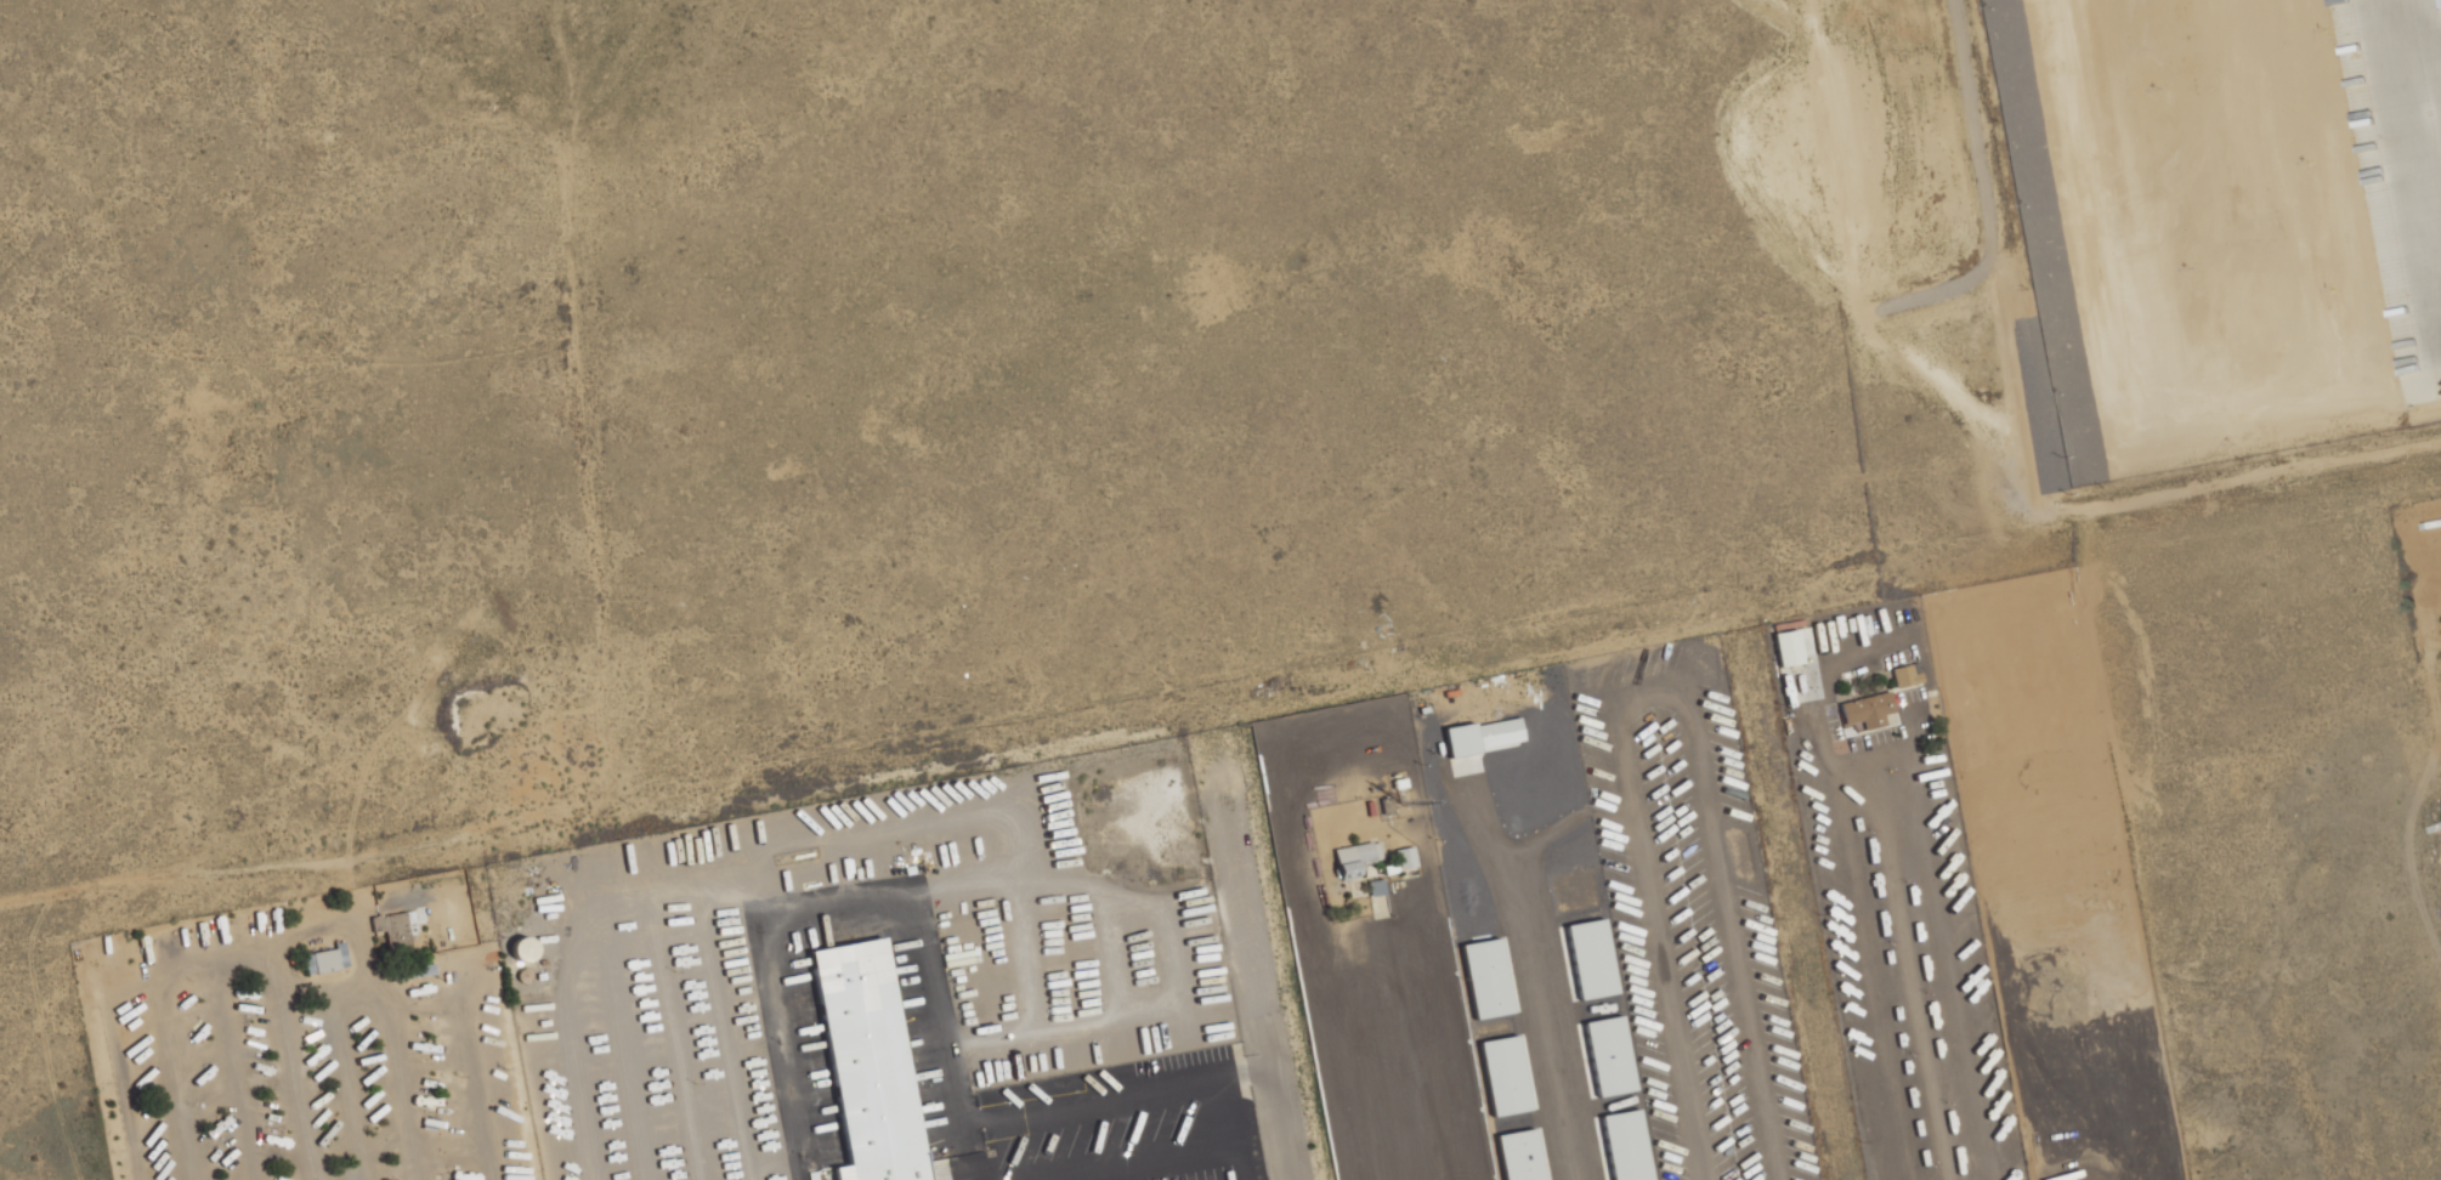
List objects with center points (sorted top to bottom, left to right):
building: (2440, 1)
building: (1786, 651)
building: (1904, 677)
road: (2435, 702)
building: (1867, 713)
building: (1355, 852)
building: (1405, 862)
building: (1346, 870)
parking lot: (1899, 898)
building: (1377, 900)
parking lot: (1697, 914)
building: (392, 932)
building: (520, 948)
storage tank: (520, 948)
road: (1250, 954)
building: (324, 960)
building: (1591, 960)
road: (923, 969)
building: (523, 976)
storage tank: (523, 976)
road: (1908, 976)
building: (1488, 981)
road: (1465, 1036)
building: (863, 1050)
building: (1608, 1059)
building: (1432, 1067)
building: (1342, 1078)
building: (1503, 1078)
building: (1622, 1146)
building: (1518, 1156)
building: (884, 1169)

